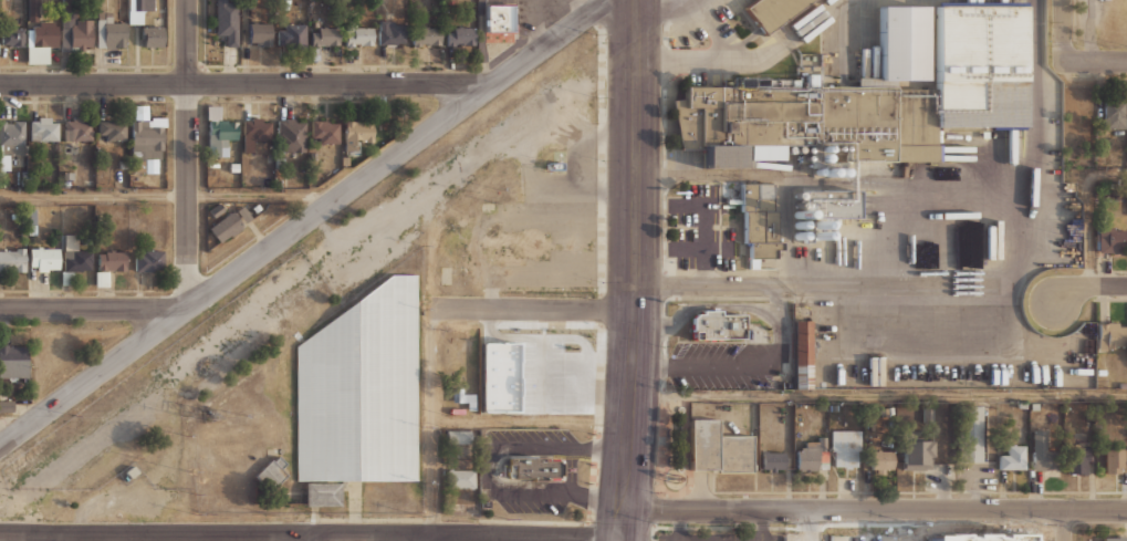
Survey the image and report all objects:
building: (1, 3)
building: (67, 3)
building: (144, 4)
building: (33, 8)
building: (772, 11)
road: (661, 14)
building: (227, 20)
building: (493, 20)
road: (1063, 30)
road: (716, 31)
building: (111, 32)
building: (392, 32)
building: (77, 33)
building: (261, 33)
building: (291, 33)
building: (153, 35)
building: (359, 35)
building: (427, 35)
building: (460, 35)
building: (12, 37)
building: (324, 37)
road: (791, 39)
building: (40, 40)
road: (1097, 60)
road: (687, 62)
building: (811, 82)
road: (248, 84)
building: (876, 93)
building: (1114, 113)
building: (44, 128)
building: (77, 128)
building: (112, 129)
building: (257, 131)
building: (324, 131)
building: (357, 132)
building: (218, 133)
building: (292, 135)
building: (12, 136)
building: (146, 142)
road: (482, 147)
road: (187, 153)
building: (343, 159)
building: (279, 160)
building: (554, 164)
building: (232, 165)
road: (1033, 174)
road: (171, 195)
building: (829, 204)
building: (254, 206)
building: (215, 209)
road: (1088, 211)
building: (242, 212)
building: (31, 215)
building: (760, 219)
road: (304, 221)
building: (226, 227)
building: (1109, 238)
road: (636, 254)
building: (76, 258)
building: (12, 259)
building: (44, 259)
building: (149, 260)
building: (113, 261)
road: (1087, 284)
road: (705, 285)
road: (894, 287)
road: (774, 301)
road: (728, 305)
road: (93, 306)
road: (530, 309)
building: (718, 325)
building: (1110, 334)
road: (910, 344)
building: (803, 354)
building: (14, 361)
parking lot: (722, 363)
road: (698, 364)
building: (541, 379)
building: (361, 389)
road: (878, 396)
building: (6, 405)
building: (497, 407)
road: (15, 422)
building: (971, 433)
building: (458, 437)
parking lot: (539, 437)
building: (718, 448)
building: (846, 448)
building: (1042, 450)
building: (812, 452)
building: (916, 455)
building: (1078, 457)
building: (1013, 458)
building: (773, 460)
building: (1115, 460)
building: (883, 461)
road: (487, 465)
building: (535, 468)
building: (132, 470)
building: (271, 474)
parking lot: (570, 474)
building: (460, 478)
building: (323, 495)
parking lot: (532, 504)
road: (874, 510)
road: (620, 522)
road: (678, 526)
road: (761, 526)
road: (1063, 526)
road: (309, 534)
road: (306, 538)
road: (428, 538)
road: (617, 538)
road: (619, 538)
building: (1117, 539)

